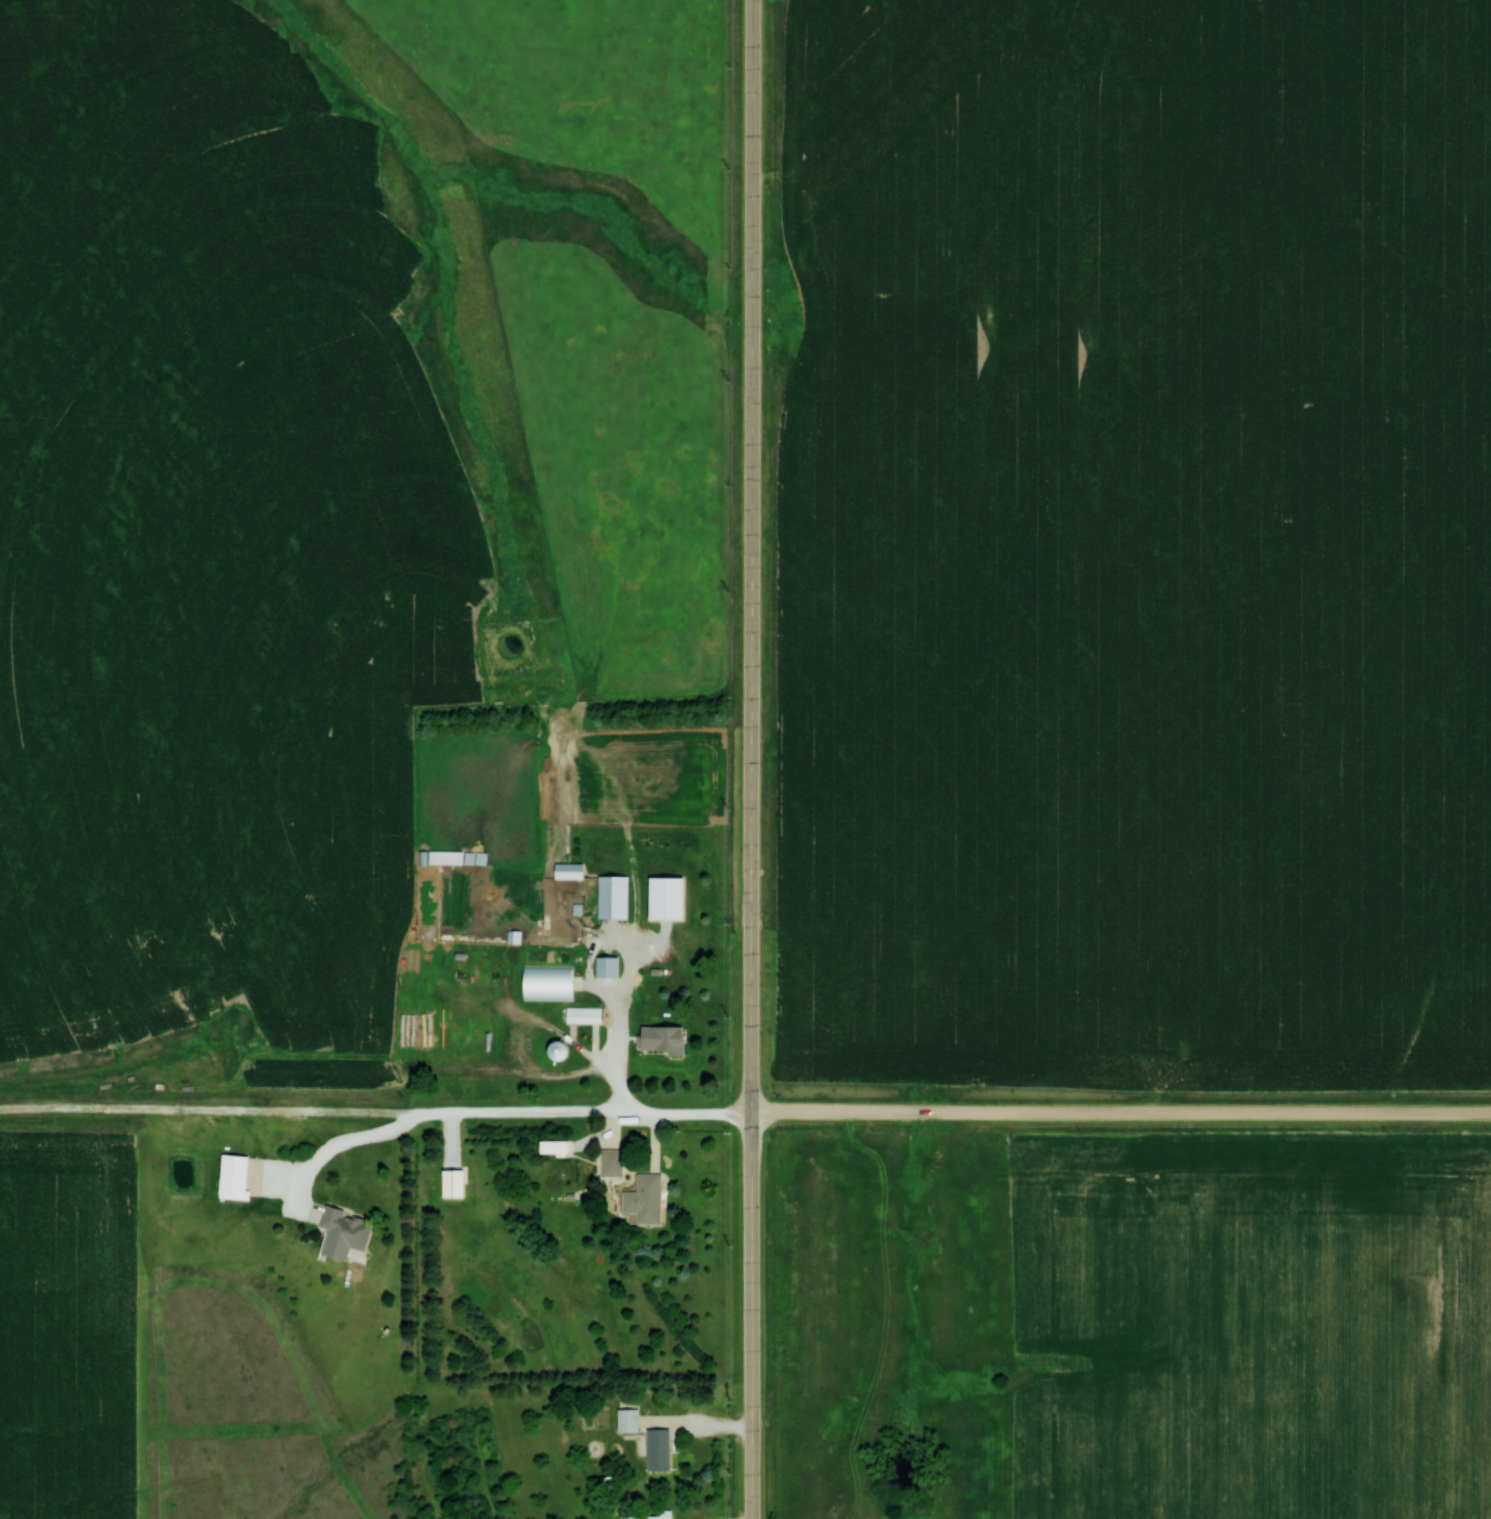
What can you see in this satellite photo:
road: (751, 759)
building: (439, 858)
building: (565, 871)
building: (614, 895)
building: (668, 895)
building: (605, 966)
building: (551, 980)
building: (581, 1015)
building: (656, 1038)
building: (553, 1051)
road: (624, 1068)
road: (375, 1114)
road: (1121, 1116)
road: (655, 1143)
building: (548, 1147)
road: (340, 1151)
building: (609, 1162)
building: (228, 1177)
building: (447, 1183)
building: (642, 1199)
building: (338, 1233)
building: (631, 1419)
road: (698, 1421)
building: (662, 1448)
building: (639, 1515)

